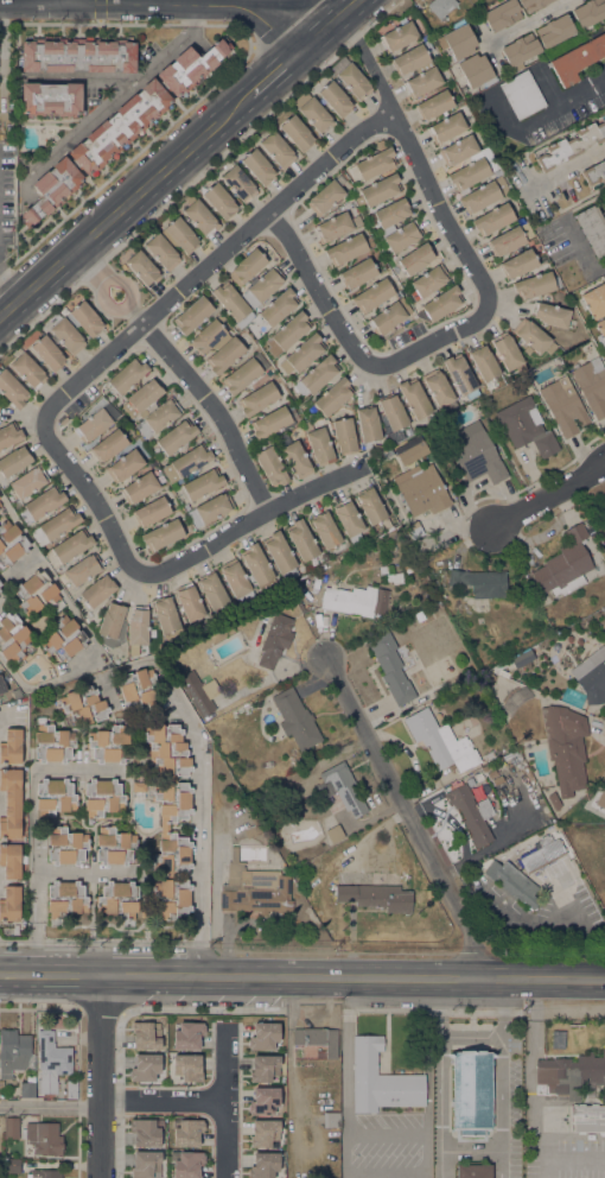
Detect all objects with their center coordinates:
road: (68, 2)
building: (531, 4)
road: (109, 5)
building: (441, 7)
building: (588, 13)
building: (502, 14)
road: (268, 17)
road: (337, 21)
road: (527, 23)
building: (554, 31)
building: (397, 37)
building: (520, 51)
building: (459, 53)
building: (78, 56)
building: (409, 58)
building: (578, 58)
building: (190, 66)
road: (284, 69)
building: (351, 77)
road: (87, 78)
building: (422, 82)
building: (522, 94)
building: (50, 97)
road: (117, 97)
building: (335, 99)
road: (569, 101)
building: (434, 104)
building: (313, 113)
building: (120, 126)
building: (446, 127)
building: (297, 133)
building: (571, 145)
building: (276, 148)
building: (458, 150)
building: (372, 164)
building: (257, 166)
road: (569, 166)
building: (594, 172)
building: (469, 173)
building: (238, 183)
building: (52, 189)
building: (377, 190)
building: (483, 195)
building: (326, 196)
building: (219, 201)
road: (126, 204)
building: (390, 213)
building: (200, 217)
building: (492, 218)
building: (333, 227)
building: (592, 228)
building: (402, 236)
building: (507, 241)
building: (171, 242)
road: (227, 249)
building: (345, 249)
building: (416, 258)
building: (518, 264)
road: (90, 265)
building: (393, 265)
building: (247, 266)
road: (599, 267)
building: (142, 268)
building: (357, 273)
building: (429, 280)
road: (101, 285)
building: (535, 285)
building: (262, 286)
road: (4, 287)
building: (371, 294)
building: (594, 300)
building: (442, 303)
building: (233, 304)
building: (275, 309)
building: (192, 315)
building: (550, 315)
building: (387, 317)
building: (422, 318)
road: (479, 319)
building: (60, 328)
building: (600, 330)
building: (287, 334)
building: (206, 335)
building: (534, 337)
building: (507, 350)
building: (47, 353)
building: (301, 354)
building: (224, 355)
building: (483, 362)
building: (26, 370)
building: (127, 374)
building: (241, 375)
building: (317, 375)
building: (460, 375)
building: (591, 385)
building: (12, 389)
building: (439, 391)
building: (332, 395)
building: (261, 397)
building: (414, 398)
road: (209, 401)
building: (563, 406)
building: (166, 408)
building: (393, 411)
building: (63, 420)
building: (273, 420)
building: (96, 422)
building: (367, 425)
building: (524, 426)
building: (9, 435)
building: (344, 435)
building: (176, 436)
building: (318, 444)
building: (108, 445)
building: (412, 449)
building: (387, 451)
building: (476, 452)
road: (60, 456)
building: (294, 457)
building: (14, 461)
building: (186, 462)
building: (123, 465)
building: (270, 467)
building: (27, 481)
building: (199, 486)
building: (139, 488)
building: (421, 489)
road: (549, 498)
building: (0, 502)
building: (44, 502)
building: (0, 505)
building: (370, 506)
building: (210, 508)
building: (151, 511)
building: (348, 520)
building: (55, 527)
building: (325, 530)
building: (414, 530)
building: (161, 534)
road: (222, 539)
building: (301, 539)
building: (11, 543)
building: (69, 547)
building: (280, 555)
building: (565, 565)
building: (257, 568)
building: (82, 569)
building: (236, 581)
building: (480, 582)
building: (0, 583)
building: (97, 590)
building: (212, 590)
building: (36, 593)
building: (355, 600)
building: (189, 602)
building: (429, 608)
building: (165, 614)
building: (419, 616)
building: (112, 625)
building: (138, 626)
road: (85, 629)
building: (12, 638)
building: (63, 639)
building: (269, 639)
building: (522, 658)
building: (390, 667)
building: (591, 676)
building: (488, 677)
building: (1, 686)
building: (136, 689)
building: (199, 695)
building: (83, 705)
building: (295, 718)
building: (217, 731)
building: (440, 741)
building: (52, 743)
building: (109, 745)
building: (11, 746)
building: (565, 746)
road: (32, 779)
building: (138, 786)
building: (340, 787)
building: (53, 797)
building: (102, 797)
road: (200, 798)
building: (554, 800)
building: (11, 803)
building: (475, 812)
building: (170, 817)
building: (246, 817)
road: (409, 818)
building: (293, 823)
building: (555, 826)
building: (335, 832)
building: (65, 845)
building: (114, 845)
building: (9, 860)
building: (523, 867)
road: (42, 869)
building: (254, 889)
building: (376, 897)
building: (64, 898)
building: (117, 899)
building: (9, 902)
road: (33, 949)
road: (199, 950)
road: (49, 977)
road: (351, 980)
road: (507, 1008)
road: (473, 1034)
building: (145, 1035)
building: (187, 1035)
building: (263, 1035)
building: (317, 1040)
building: (13, 1050)
road: (440, 1051)
building: (51, 1057)
building: (187, 1066)
building: (145, 1068)
building: (263, 1068)
building: (569, 1073)
road: (98, 1078)
building: (381, 1079)
building: (27, 1089)
building: (471, 1092)
road: (191, 1098)
building: (263, 1100)
road: (49, 1104)
road: (504, 1107)
building: (331, 1119)
building: (587, 1119)
building: (11, 1127)
building: (145, 1132)
building: (187, 1132)
building: (263, 1132)
building: (43, 1138)
road: (221, 1138)
road: (440, 1151)
road: (471, 1152)
building: (145, 1164)
building: (187, 1164)
building: (263, 1164)
building: (12, 1166)
building: (472, 1171)
building: (45, 1173)
road: (349, 1174)

